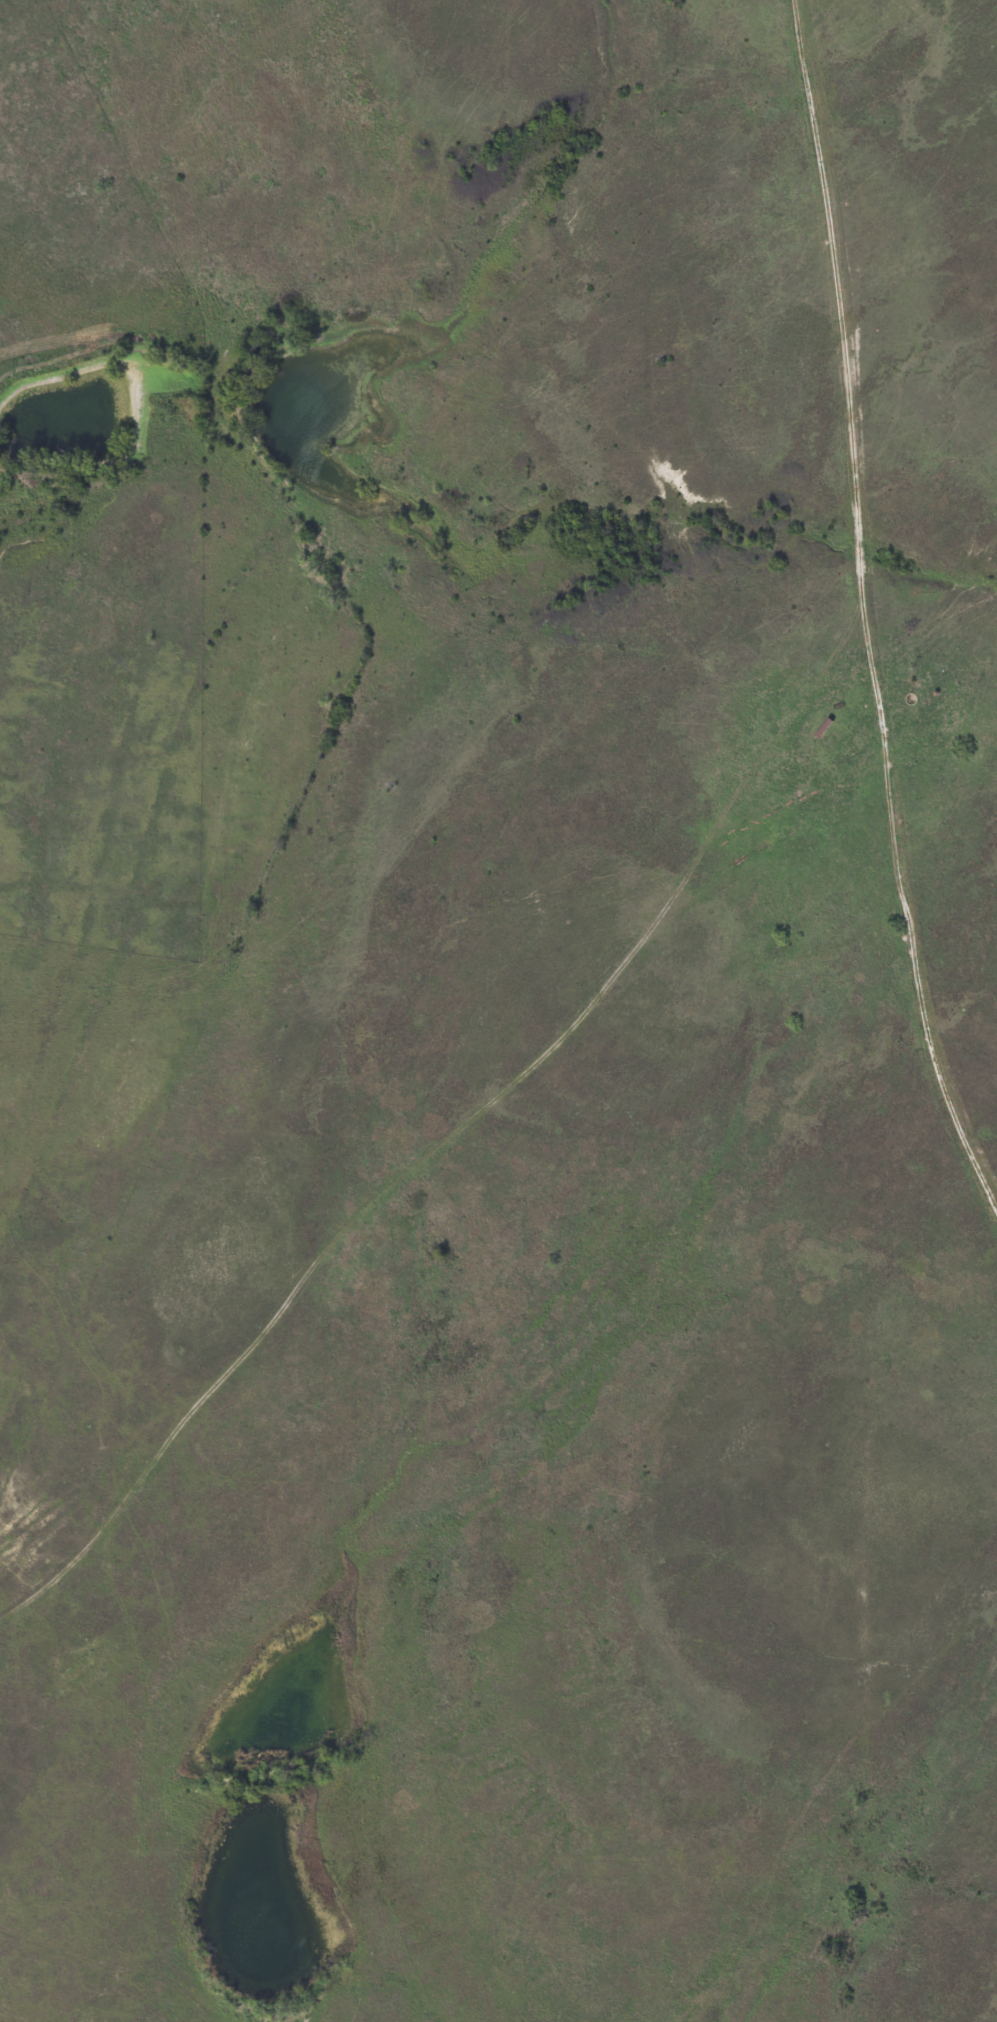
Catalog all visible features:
road: (864, 609)
road: (453, 1128)
road: (100, 1968)

